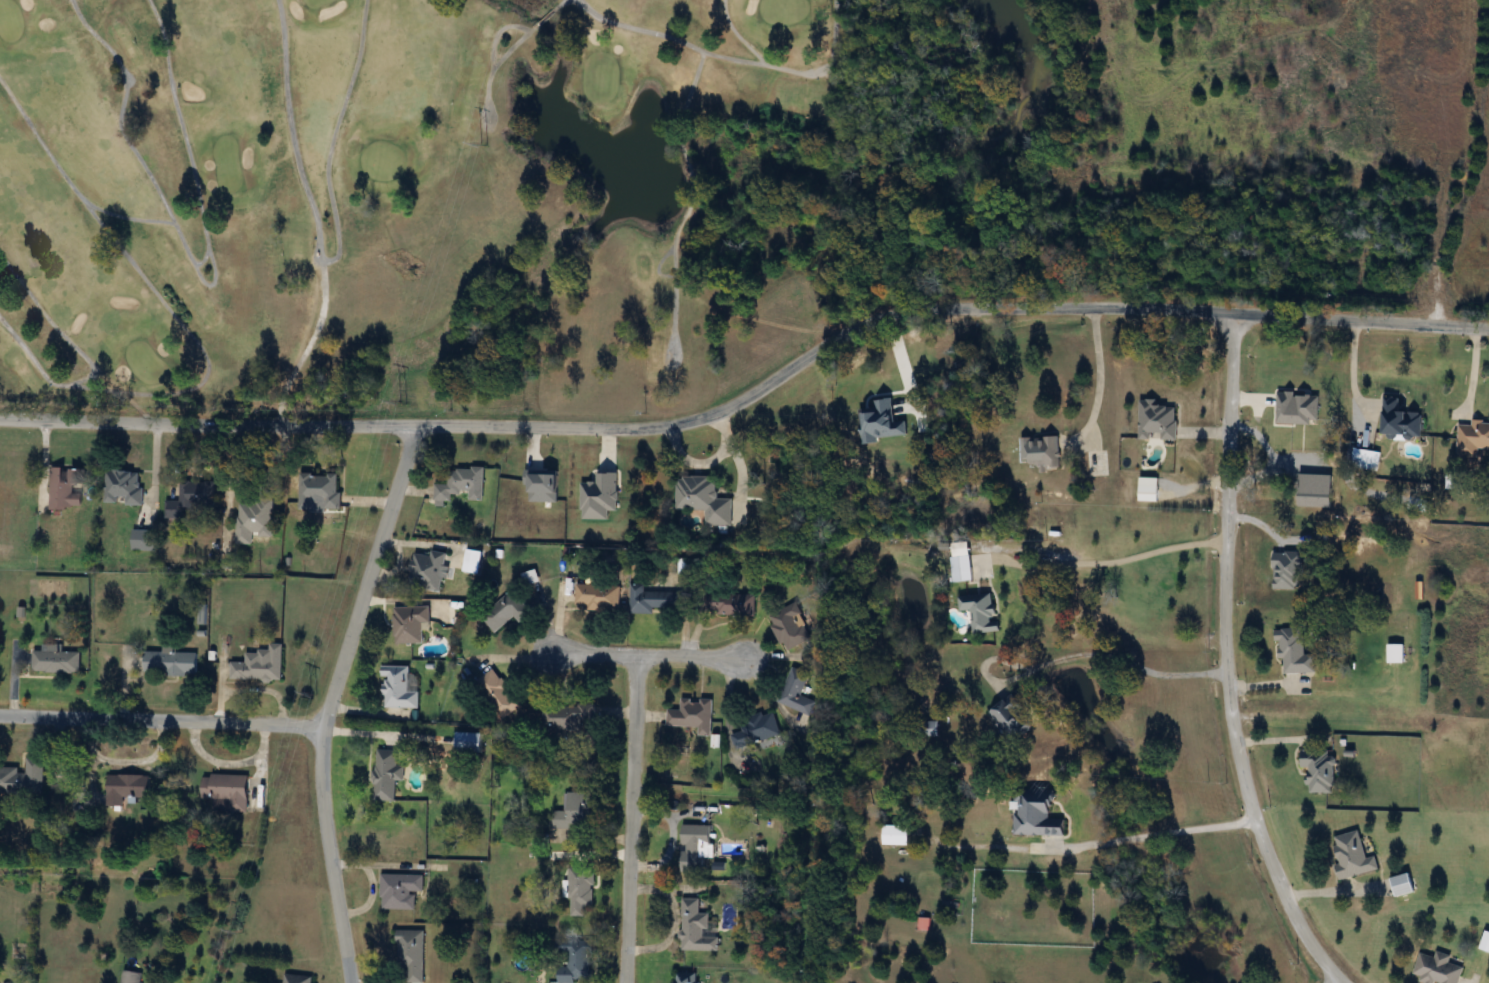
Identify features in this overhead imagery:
road: (1351, 371)
road: (1469, 376)
road: (1096, 383)
road: (753, 396)
building: (1158, 421)
building: (1402, 421)
building: (1473, 439)
building: (1041, 451)
building: (1367, 459)
building: (462, 485)
building: (124, 486)
building: (67, 488)
building: (319, 491)
building: (1150, 493)
building: (705, 498)
building: (194, 500)
building: (254, 519)
road: (1103, 559)
building: (963, 567)
building: (1289, 569)
building: (429, 570)
building: (532, 577)
building: (598, 596)
building: (653, 599)
building: (730, 603)
building: (507, 610)
building: (982, 611)
building: (412, 624)
building: (790, 626)
building: (1294, 651)
road: (1118, 653)
building: (1398, 653)
road: (650, 656)
building: (57, 660)
road: (1223, 661)
building: (172, 663)
building: (261, 664)
building: (400, 688)
building: (799, 692)
building: (499, 693)
road: (331, 700)
building: (694, 714)
building: (568, 716)
building: (1012, 718)
road: (162, 720)
building: (757, 729)
building: (471, 741)
building: (1321, 769)
building: (388, 774)
building: (23, 778)
building: (129, 786)
building: (228, 791)
building: (577, 811)
building: (1038, 813)
road: (631, 819)
road: (1144, 834)
building: (897, 835)
building: (697, 846)
building: (1354, 856)
building: (1404, 885)
building: (582, 890)
building: (402, 891)
building: (696, 927)
building: (1487, 943)
building: (412, 954)
building: (577, 961)
building: (1438, 969)
building: (132, 977)
building: (688, 978)
building: (297, 979)
road: (1335, 982)

